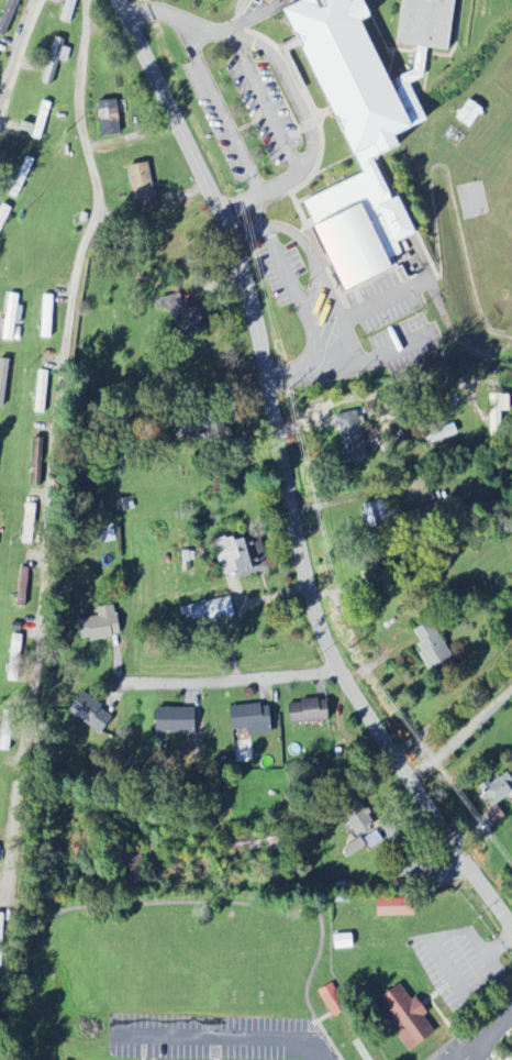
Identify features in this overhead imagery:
building: (68, 10)
road: (166, 12)
building: (9, 16)
road: (236, 22)
building: (428, 23)
road: (18, 52)
road: (263, 98)
road: (301, 104)
building: (109, 118)
road: (232, 131)
building: (361, 139)
building: (144, 187)
road: (255, 211)
building: (3, 214)
road: (245, 230)
road: (312, 256)
road: (279, 261)
road: (363, 308)
building: (11, 316)
building: (190, 316)
road: (311, 351)
road: (365, 360)
building: (3, 379)
building: (41, 390)
road: (402, 390)
building: (499, 412)
building: (354, 435)
road: (55, 445)
building: (36, 461)
road: (286, 475)
building: (372, 515)
building: (243, 555)
building: (375, 572)
building: (22, 586)
building: (210, 609)
building: (100, 622)
building: (433, 644)
building: (15, 658)
road: (223, 677)
building: (311, 710)
building: (93, 713)
building: (254, 718)
building: (178, 719)
building: (7, 730)
road: (463, 733)
building: (499, 794)
building: (360, 825)
building: (356, 846)
road: (188, 901)
building: (397, 906)
building: (1, 932)
building: (343, 941)
park: (172, 979)
building: (333, 1000)
building: (407, 1017)
road: (225, 1034)
road: (478, 1034)
park: (480, 1036)
road: (154, 1047)
road: (480, 1049)

